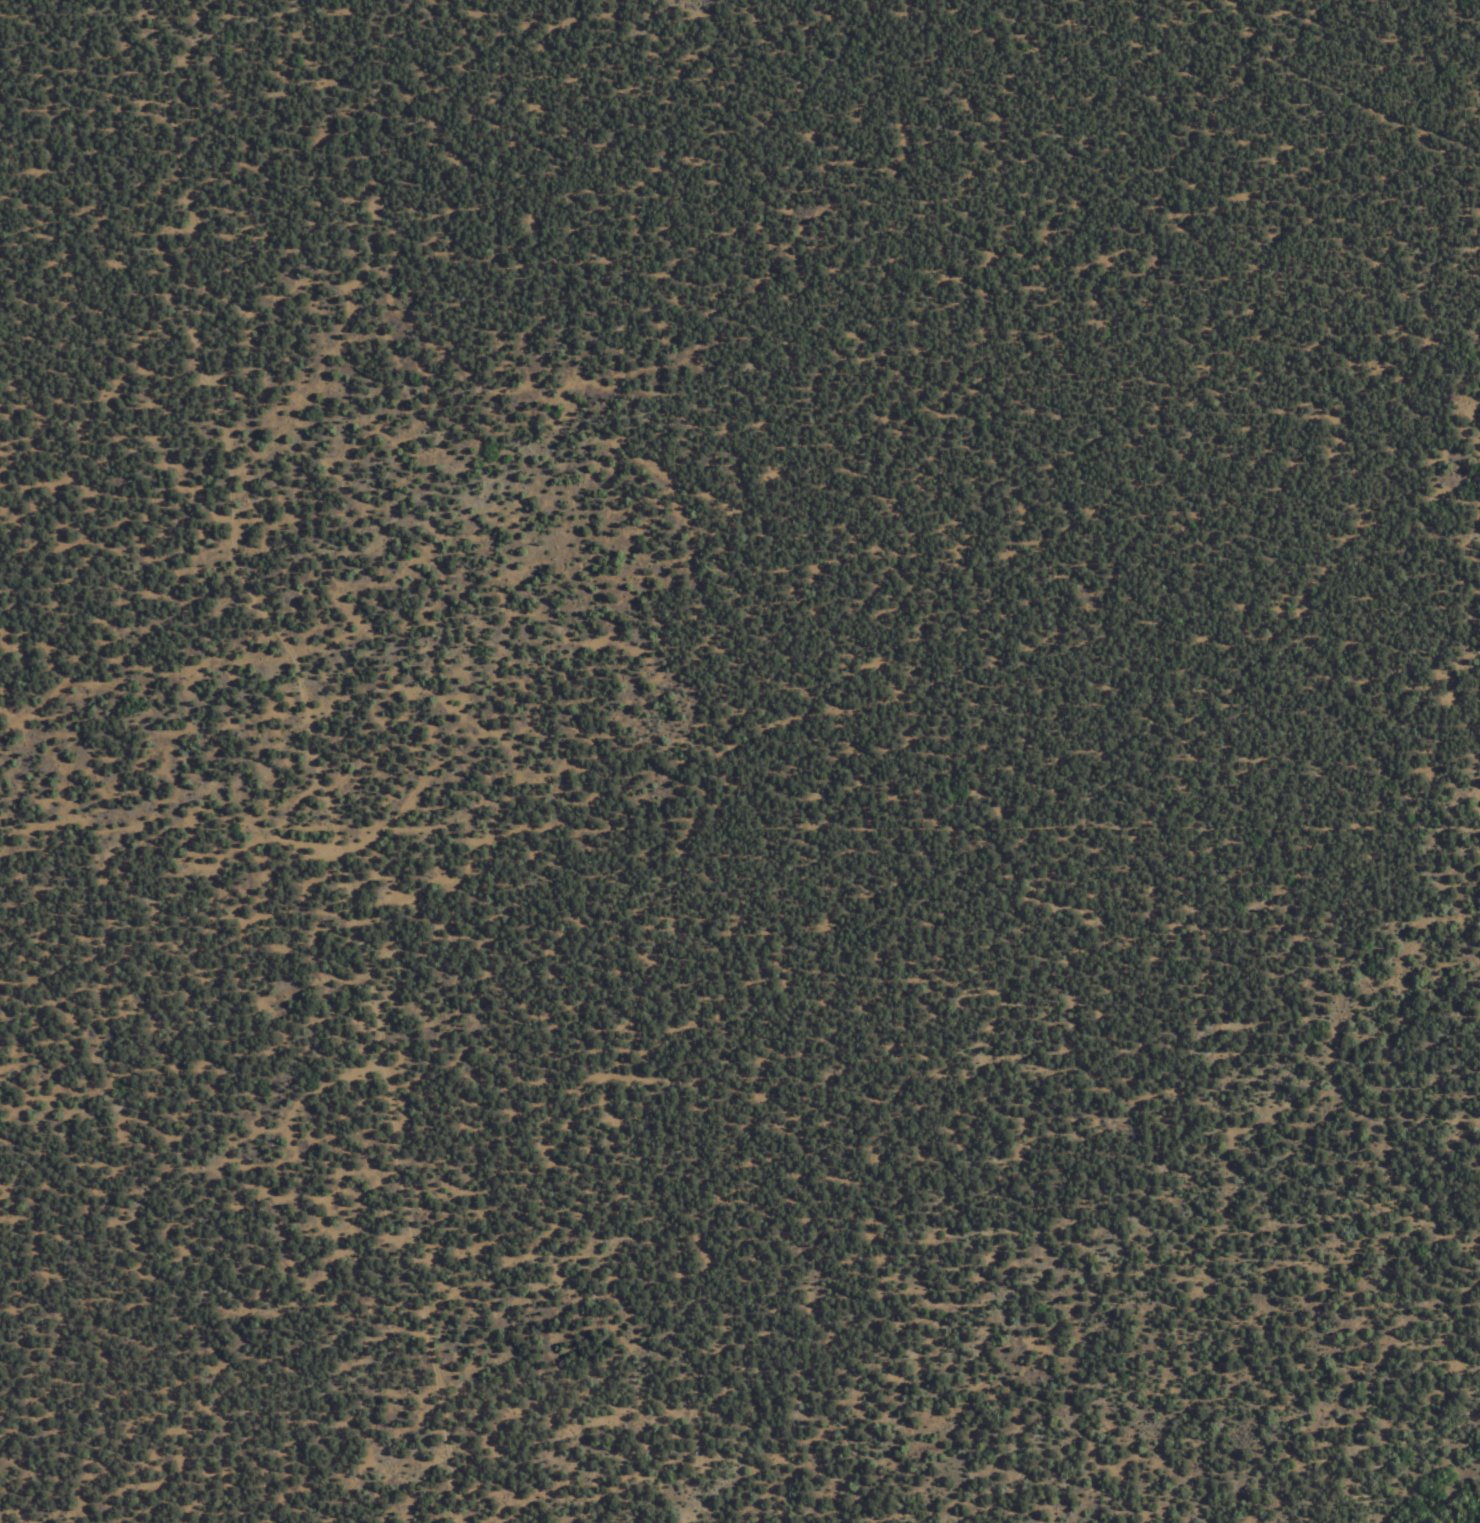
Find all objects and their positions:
road: (1404, 1430)

